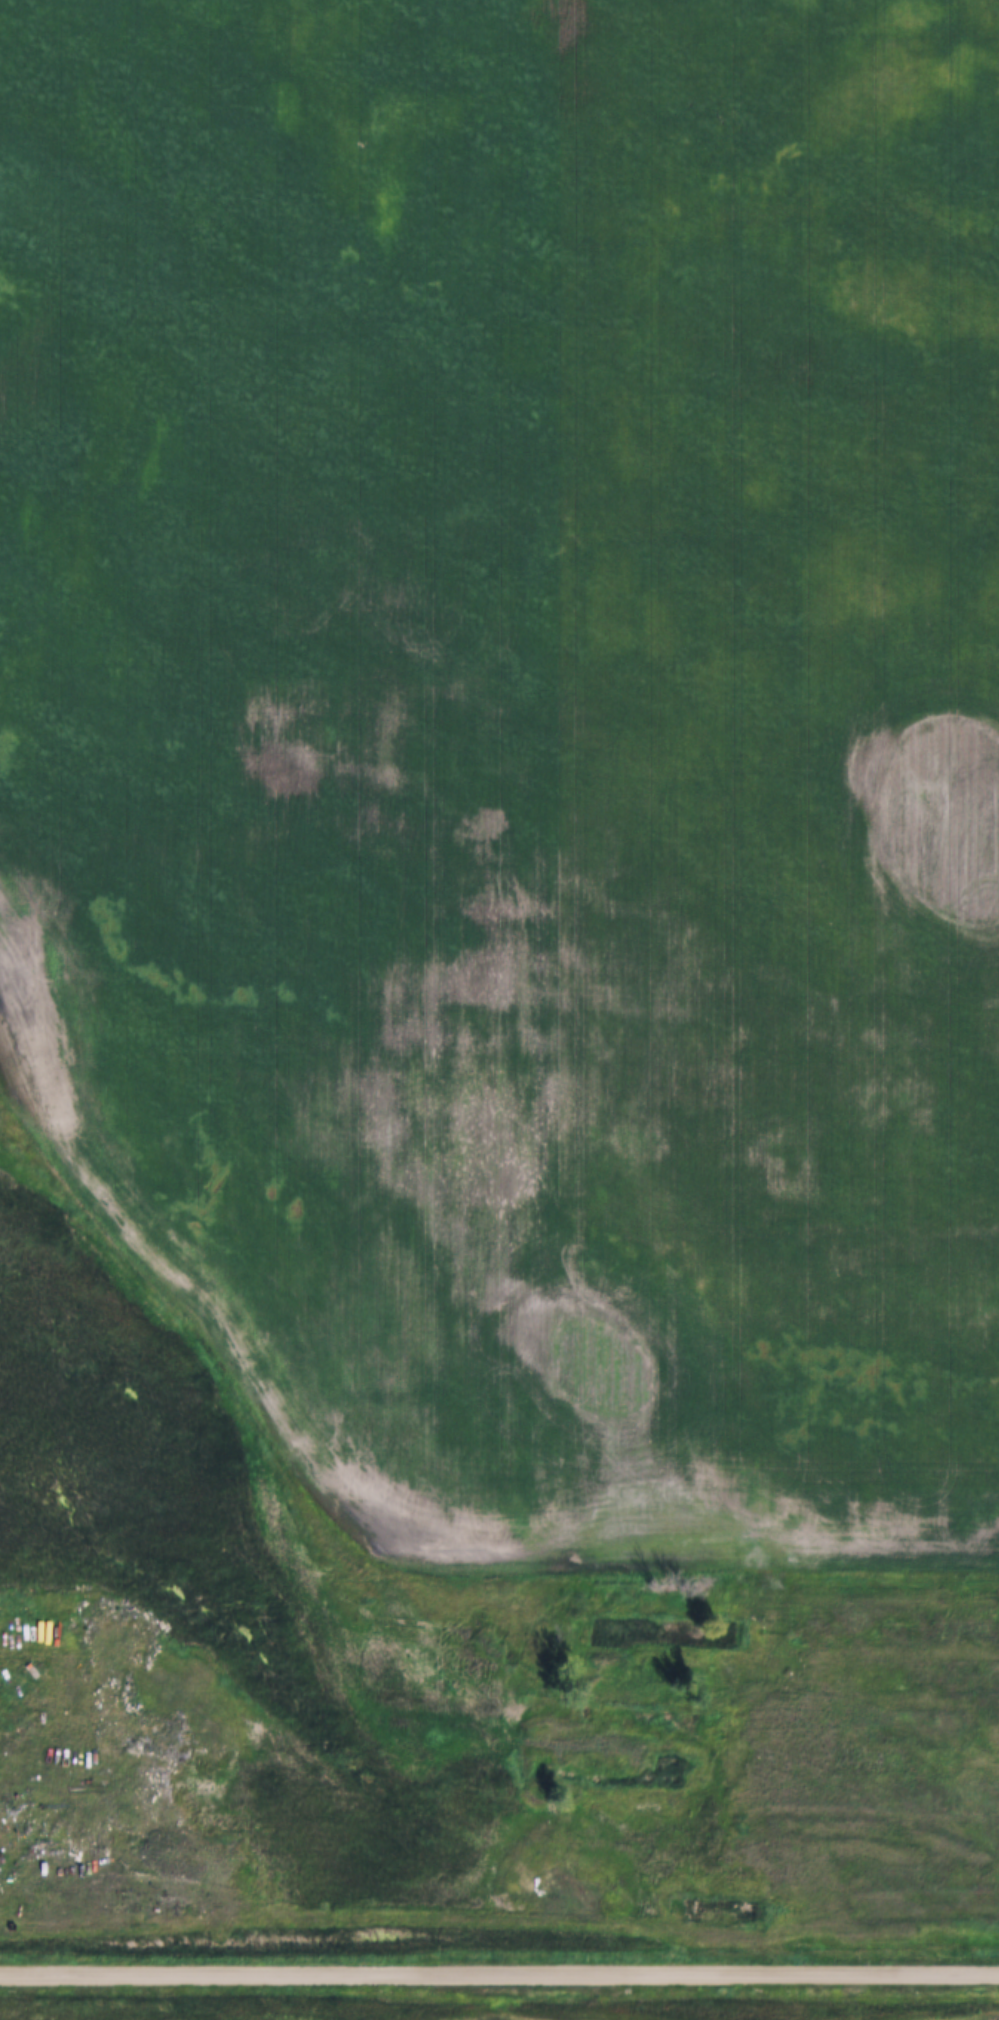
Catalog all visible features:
road: (499, 1971)

